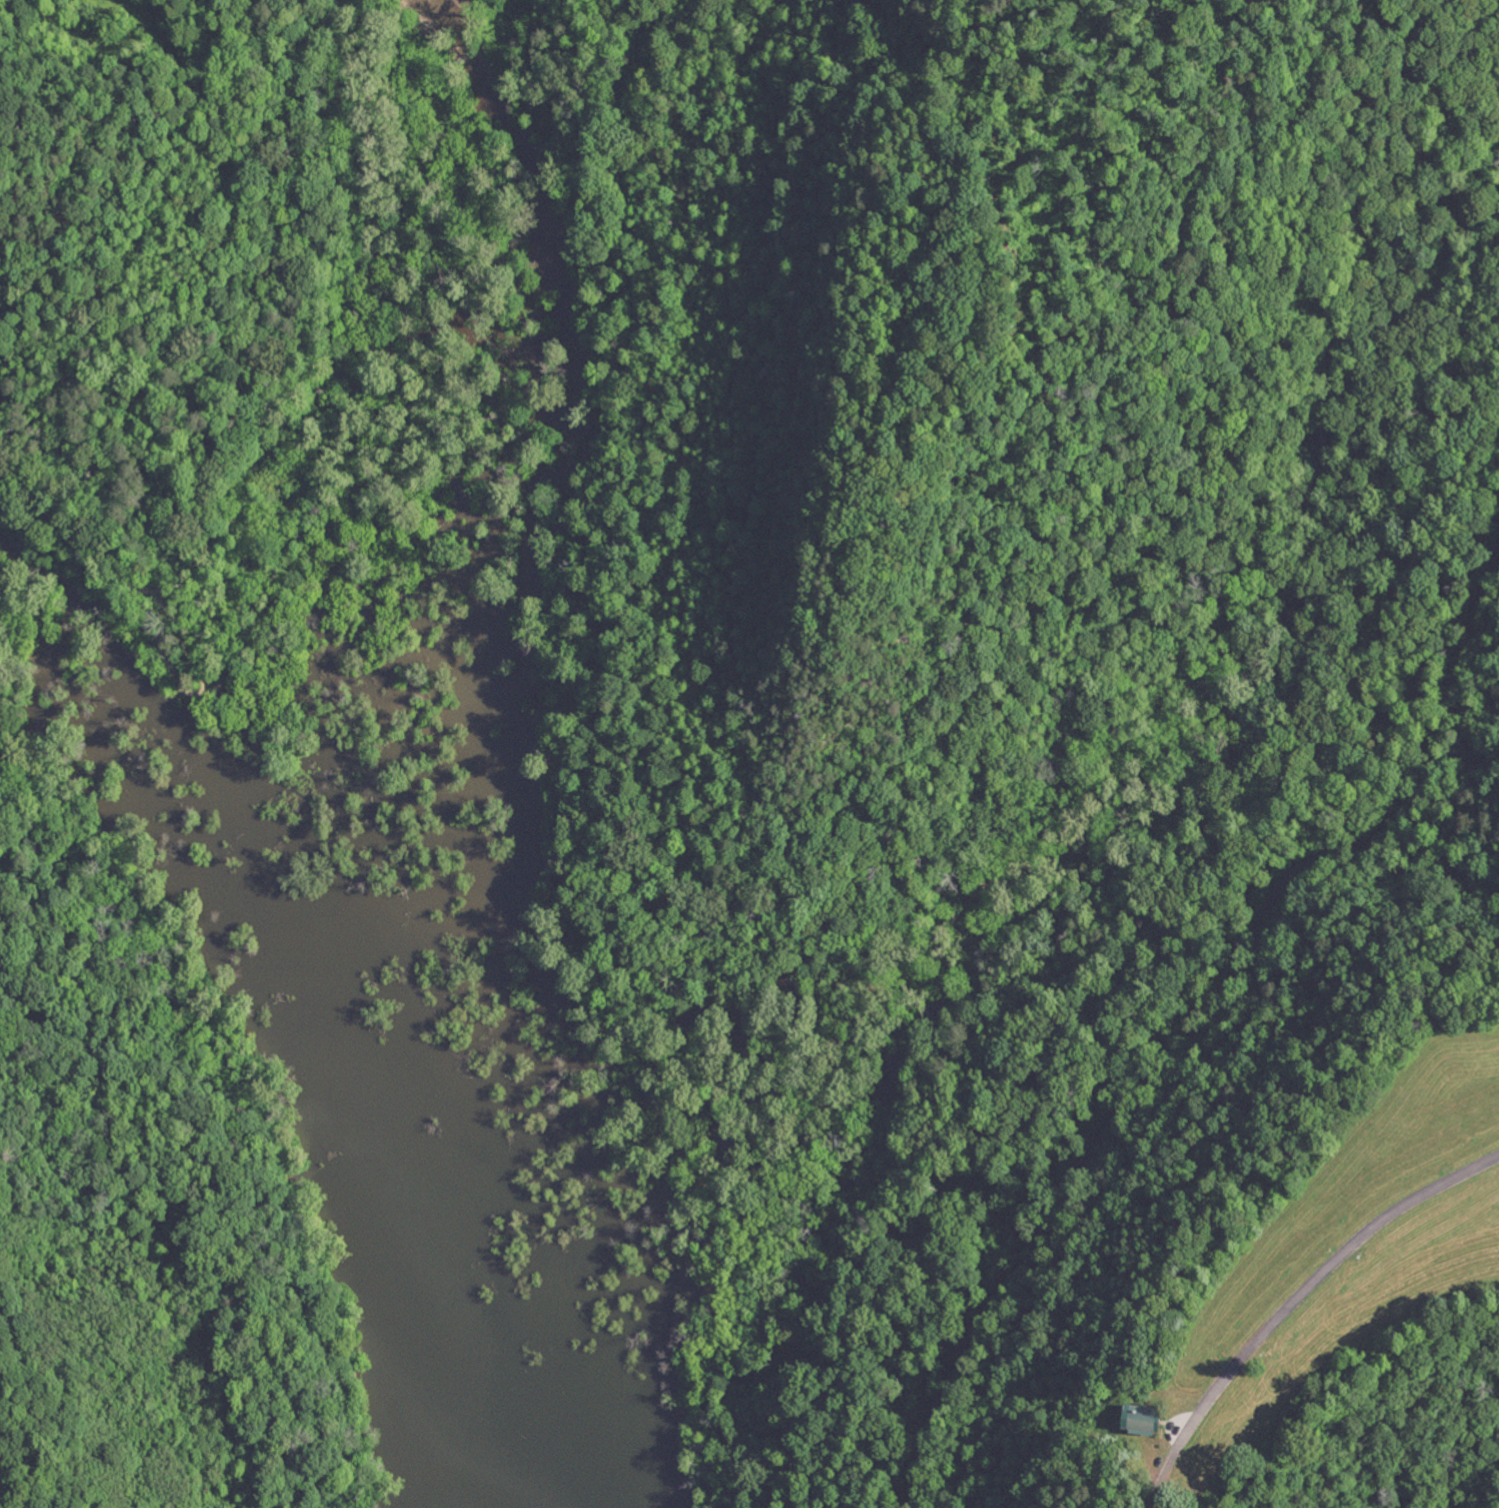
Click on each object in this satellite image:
road: (95, 515)
road: (202, 695)
road: (1201, 1015)
road: (1299, 1303)
building: (1132, 1420)

